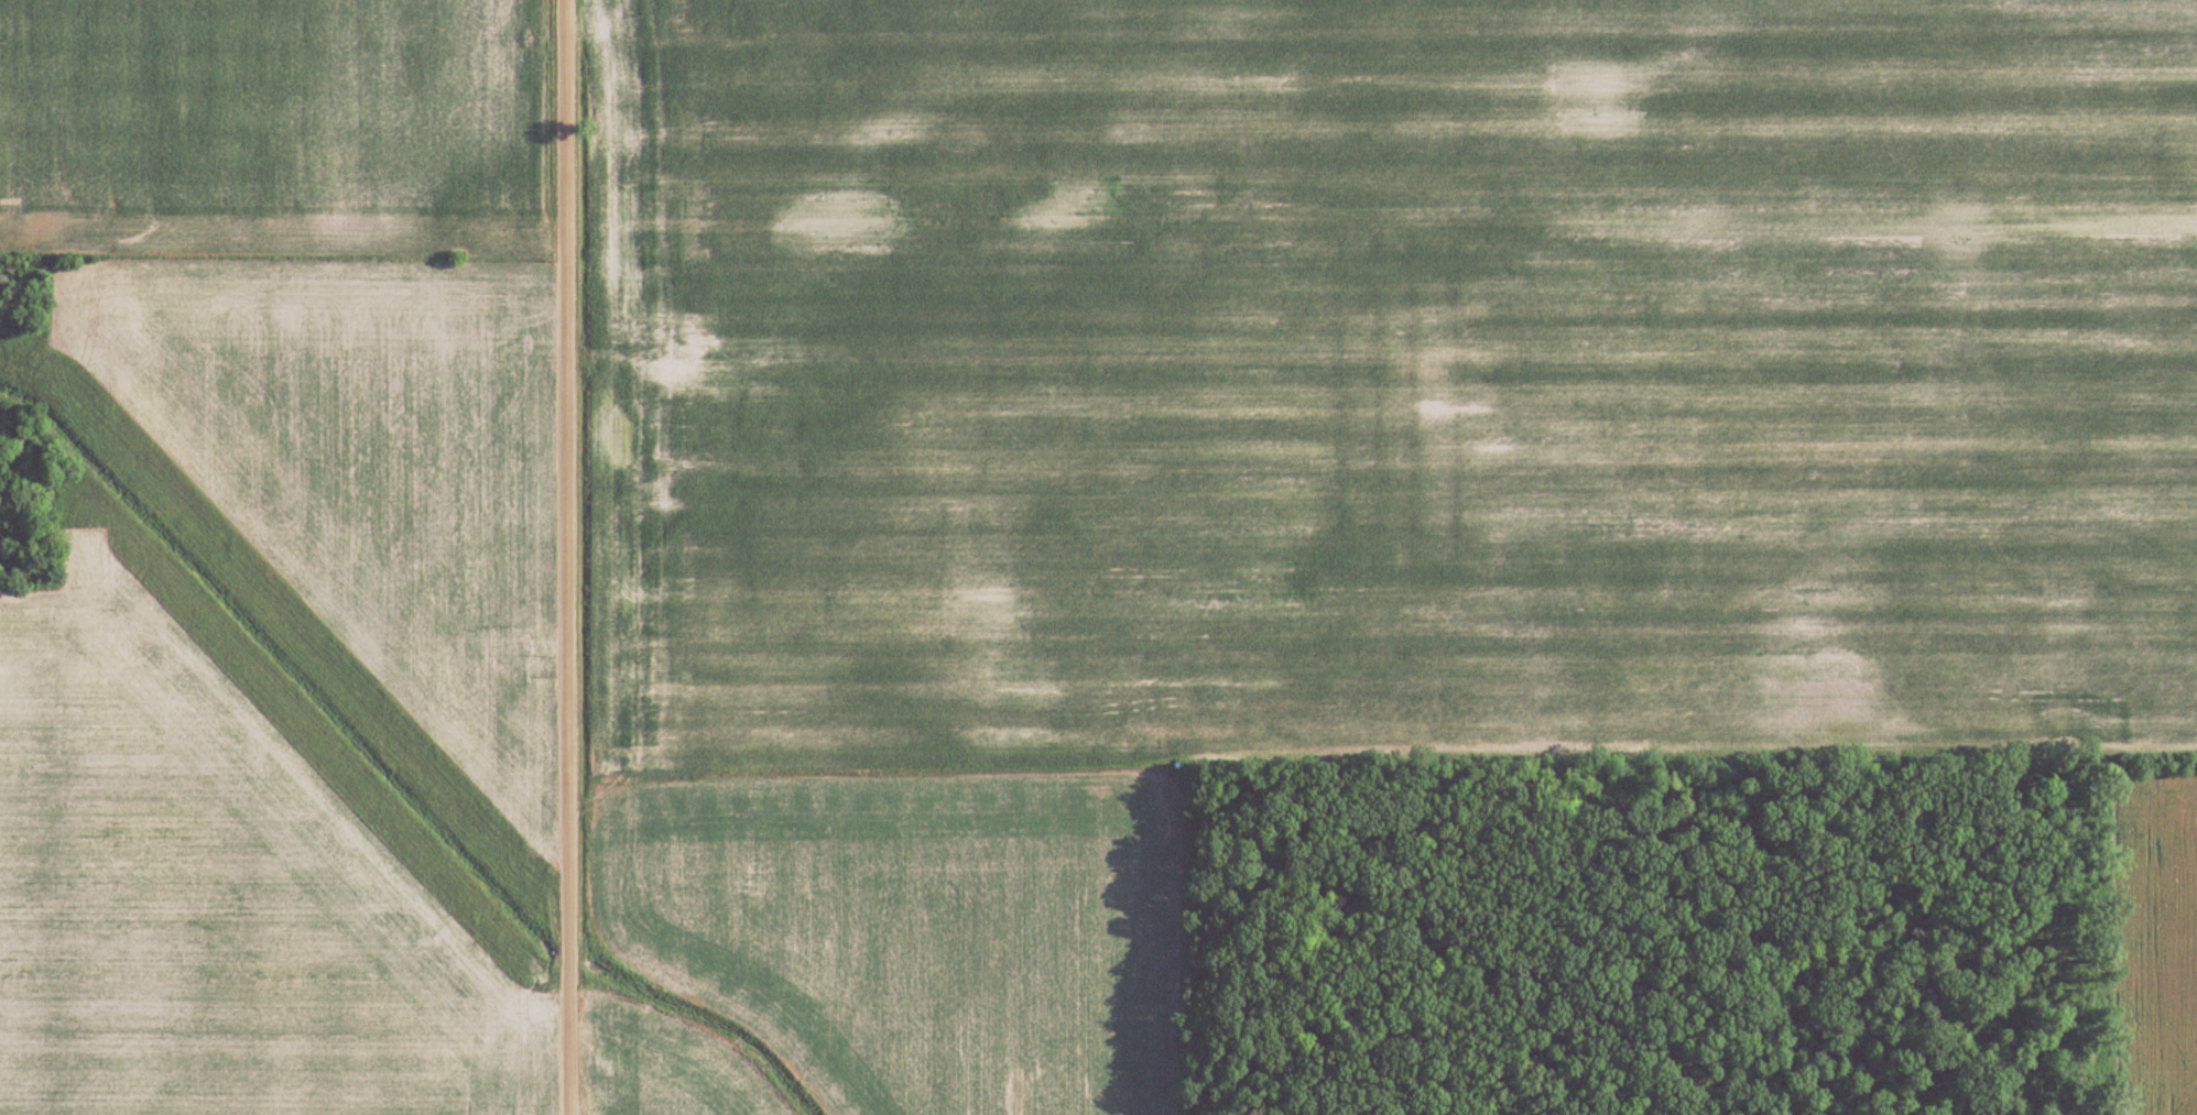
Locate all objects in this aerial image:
road: (566, 557)

